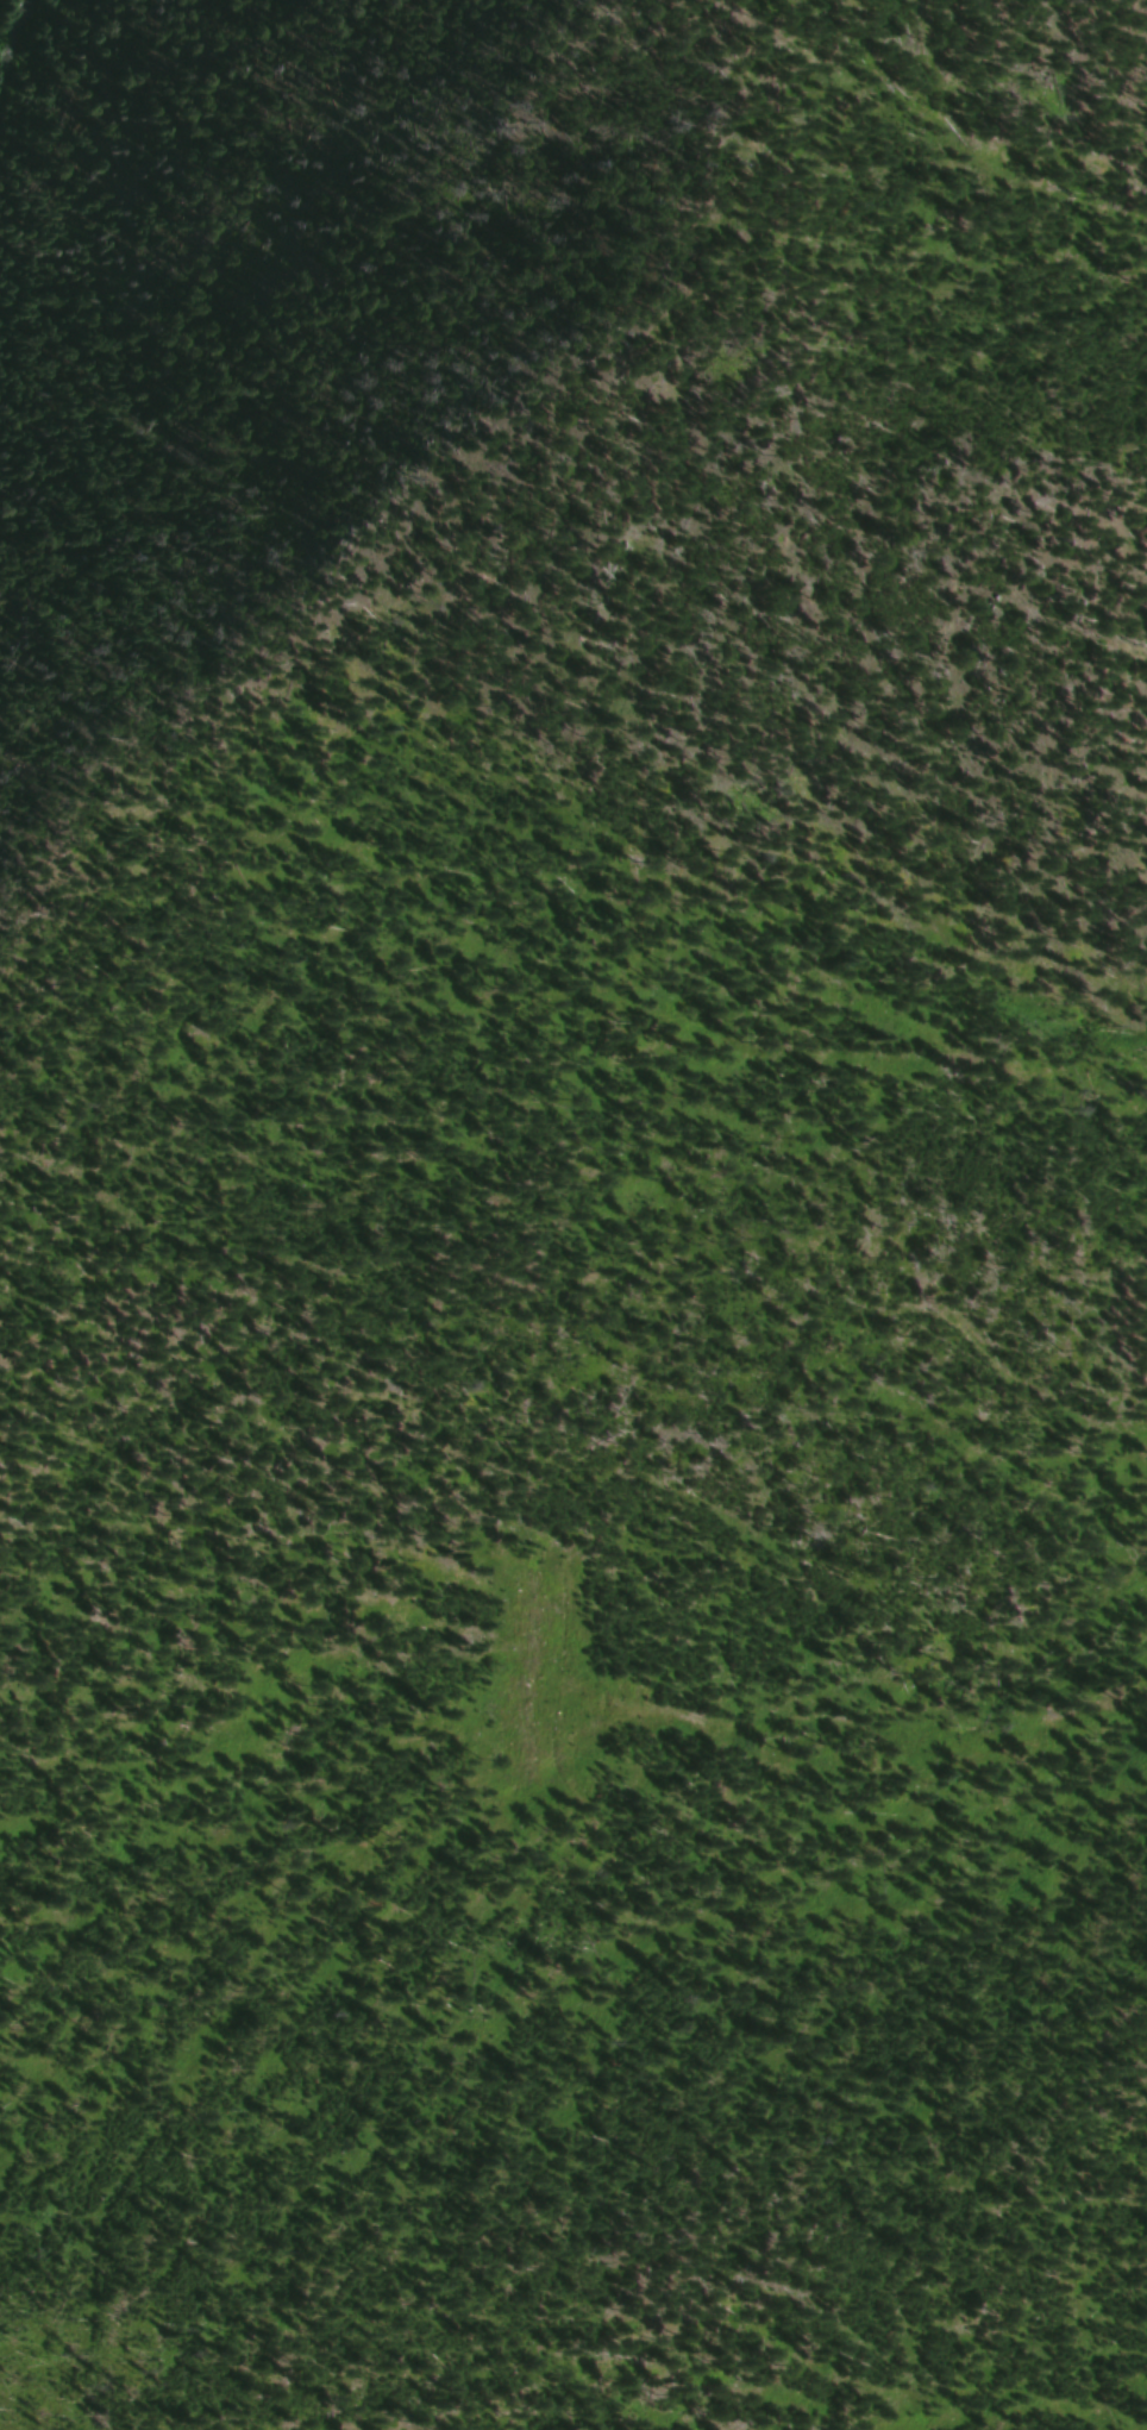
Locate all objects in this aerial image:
river: (11, 40)

